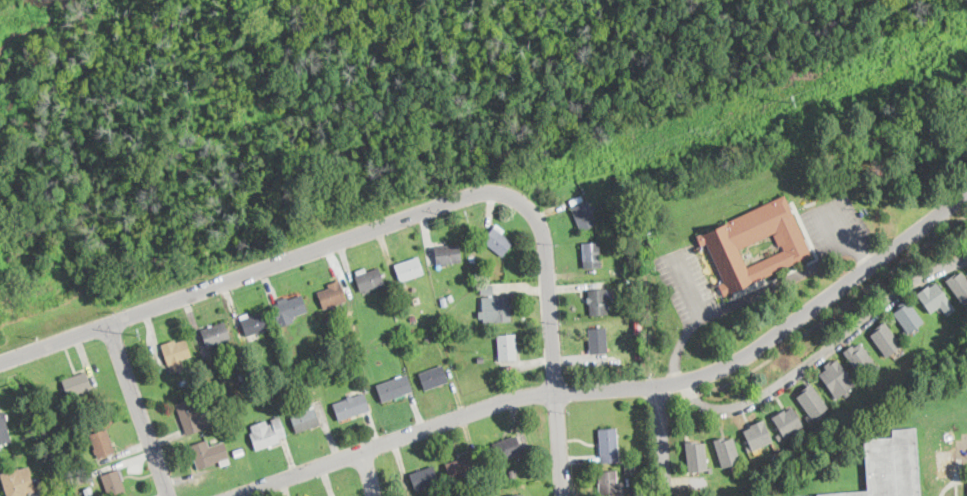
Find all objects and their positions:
power tower: (793, 104)
building: (580, 198)
building: (623, 212)
building: (612, 215)
building: (585, 216)
power tower: (466, 219)
building: (621, 221)
road: (840, 227)
building: (499, 241)
building: (727, 247)
building: (448, 254)
building: (592, 255)
building: (472, 259)
road: (258, 269)
building: (409, 269)
building: (371, 280)
building: (959, 286)
road: (689, 288)
building: (488, 289)
road: (758, 294)
building: (333, 296)
building: (932, 296)
building: (444, 302)
building: (597, 302)
building: (289, 309)
building: (496, 309)
building: (909, 316)
building: (414, 318)
building: (331, 319)
road: (824, 320)
building: (255, 326)
building: (640, 328)
building: (216, 334)
power tower: (137, 336)
building: (436, 336)
building: (428, 339)
building: (886, 339)
building: (599, 341)
road: (553, 342)
building: (507, 347)
road: (824, 352)
building: (177, 355)
building: (859, 358)
building: (480, 359)
building: (191, 363)
building: (878, 368)
building: (199, 374)
building: (242, 377)
building: (435, 377)
building: (837, 378)
building: (77, 383)
building: (395, 388)
road: (624, 388)
building: (848, 394)
building: (215, 395)
building: (812, 400)
building: (74, 404)
building: (352, 406)
road: (141, 410)
building: (193, 416)
building: (808, 418)
building: (306, 419)
building: (787, 421)
building: (4, 430)
building: (268, 433)
building: (758, 434)
building: (779, 437)
road: (663, 440)
building: (103, 443)
building: (70, 445)
building: (609, 445)
building: (508, 448)
building: (748, 448)
building: (240, 451)
building: (727, 451)
building: (210, 454)
building: (697, 456)
building: (945, 463)
building: (891, 466)
building: (461, 468)
building: (631, 469)
building: (232, 470)
road: (370, 473)
building: (514, 474)
building: (425, 477)
building: (86, 478)
building: (18, 482)
building: (114, 484)
building: (610, 484)
building: (517, 495)

